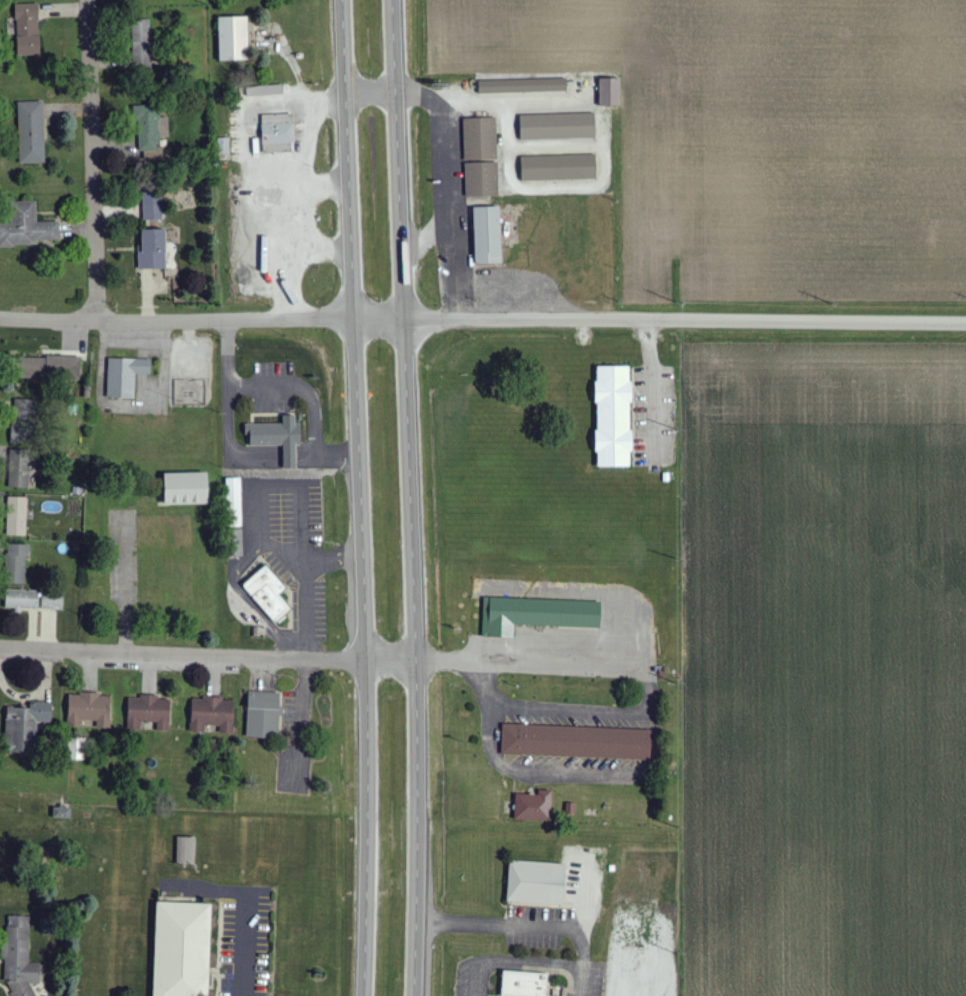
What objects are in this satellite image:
building: (28, 29)
building: (233, 39)
road: (287, 54)
road: (298, 78)
building: (523, 86)
building: (262, 91)
building: (610, 92)
road: (546, 99)
road: (317, 103)
building: (557, 126)
building: (148, 127)
building: (31, 133)
building: (278, 133)
crop: (761, 136)
building: (480, 139)
building: (223, 146)
road: (306, 152)
road: (88, 160)
building: (559, 168)
building: (482, 179)
road: (528, 189)
building: (152, 207)
road: (450, 210)
building: (26, 226)
road: (288, 230)
building: (488, 235)
road: (426, 236)
road: (319, 247)
building: (153, 250)
road: (202, 319)
road: (685, 320)
building: (50, 368)
building: (125, 377)
road: (653, 385)
parking lot: (274, 387)
road: (287, 388)
building: (614, 416)
parking lot: (653, 417)
building: (21, 422)
building: (278, 438)
road: (242, 449)
road: (275, 459)
building: (19, 473)
building: (186, 489)
road: (265, 490)
road: (357, 497)
road: (411, 497)
building: (234, 503)
building: (17, 517)
parking lot: (288, 543)
building: (16, 564)
road: (309, 585)
building: (268, 590)
road: (248, 598)
building: (22, 600)
building: (52, 603)
building: (535, 615)
road: (208, 652)
road: (445, 653)
road: (650, 669)
crop: (824, 669)
building: (90, 710)
building: (149, 712)
building: (212, 715)
building: (264, 715)
building: (26, 726)
building: (576, 742)
parking lot: (492, 744)
building: (534, 807)
building: (570, 808)
building: (62, 813)
building: (186, 851)
building: (536, 882)
road: (525, 927)
parking lot: (537, 927)
building: (182, 948)
building: (19, 958)
road: (519, 962)
parking lot: (527, 978)
building: (528, 984)

